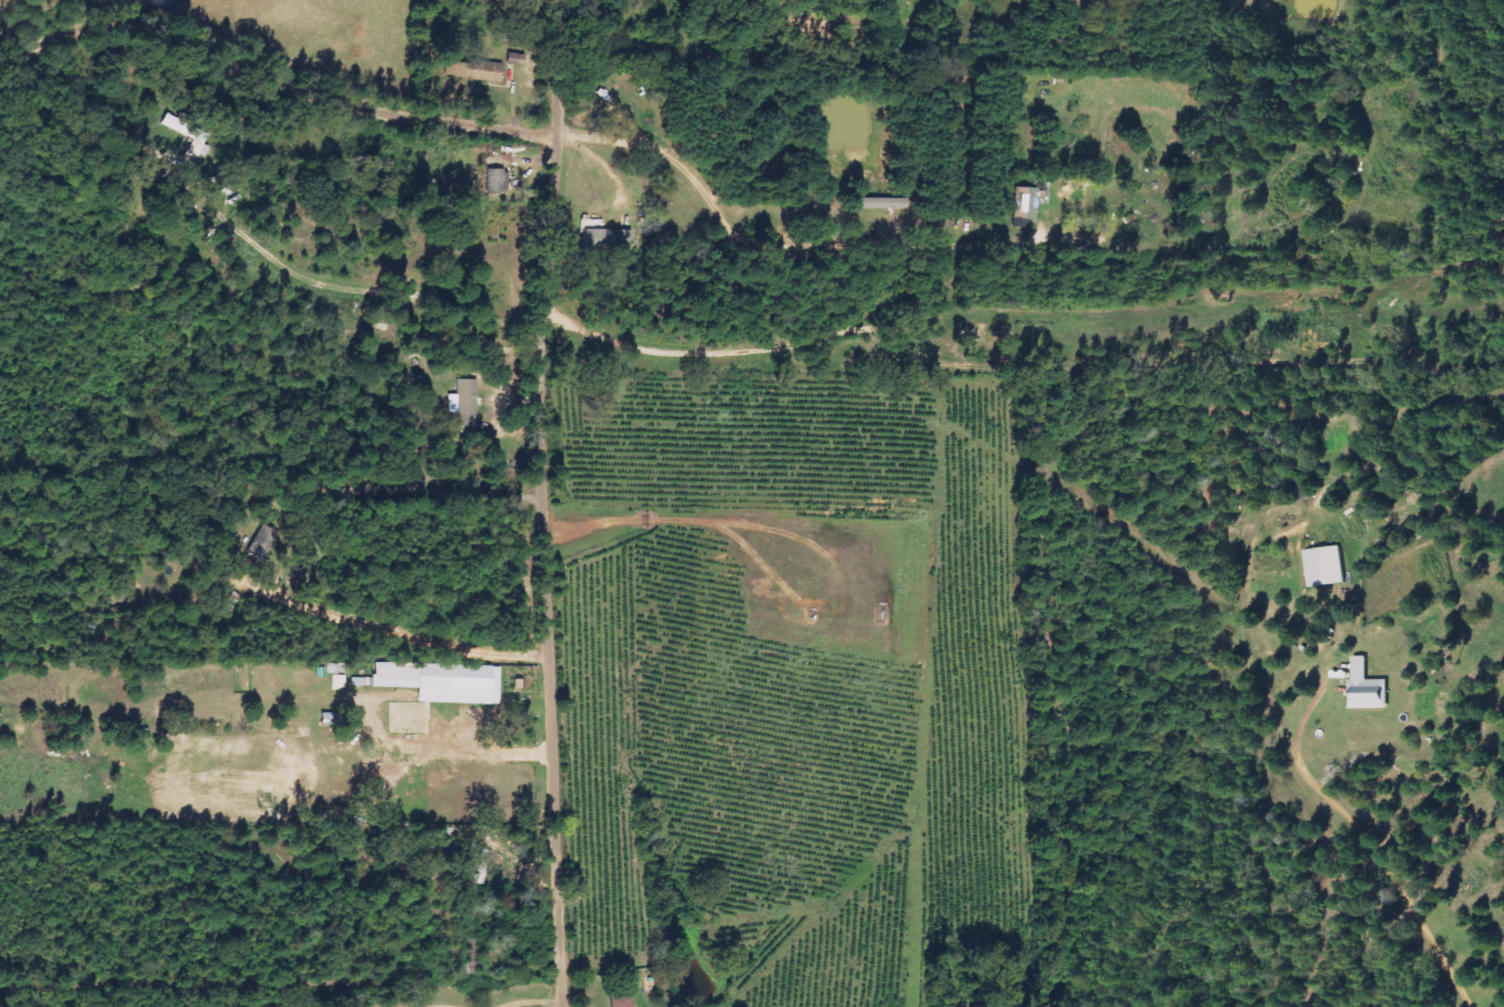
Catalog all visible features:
building: (482, 71)
road: (278, 76)
building: (185, 134)
building: (494, 176)
road: (1031, 178)
building: (881, 203)
building: (1023, 203)
building: (605, 238)
building: (463, 403)
road: (554, 503)
building: (262, 542)
building: (1325, 566)
building: (438, 682)
building: (1367, 687)
building: (481, 867)
building: (499, 867)
road: (533, 1000)
building: (619, 1001)
road: (472, 1006)
road: (501, 1006)

